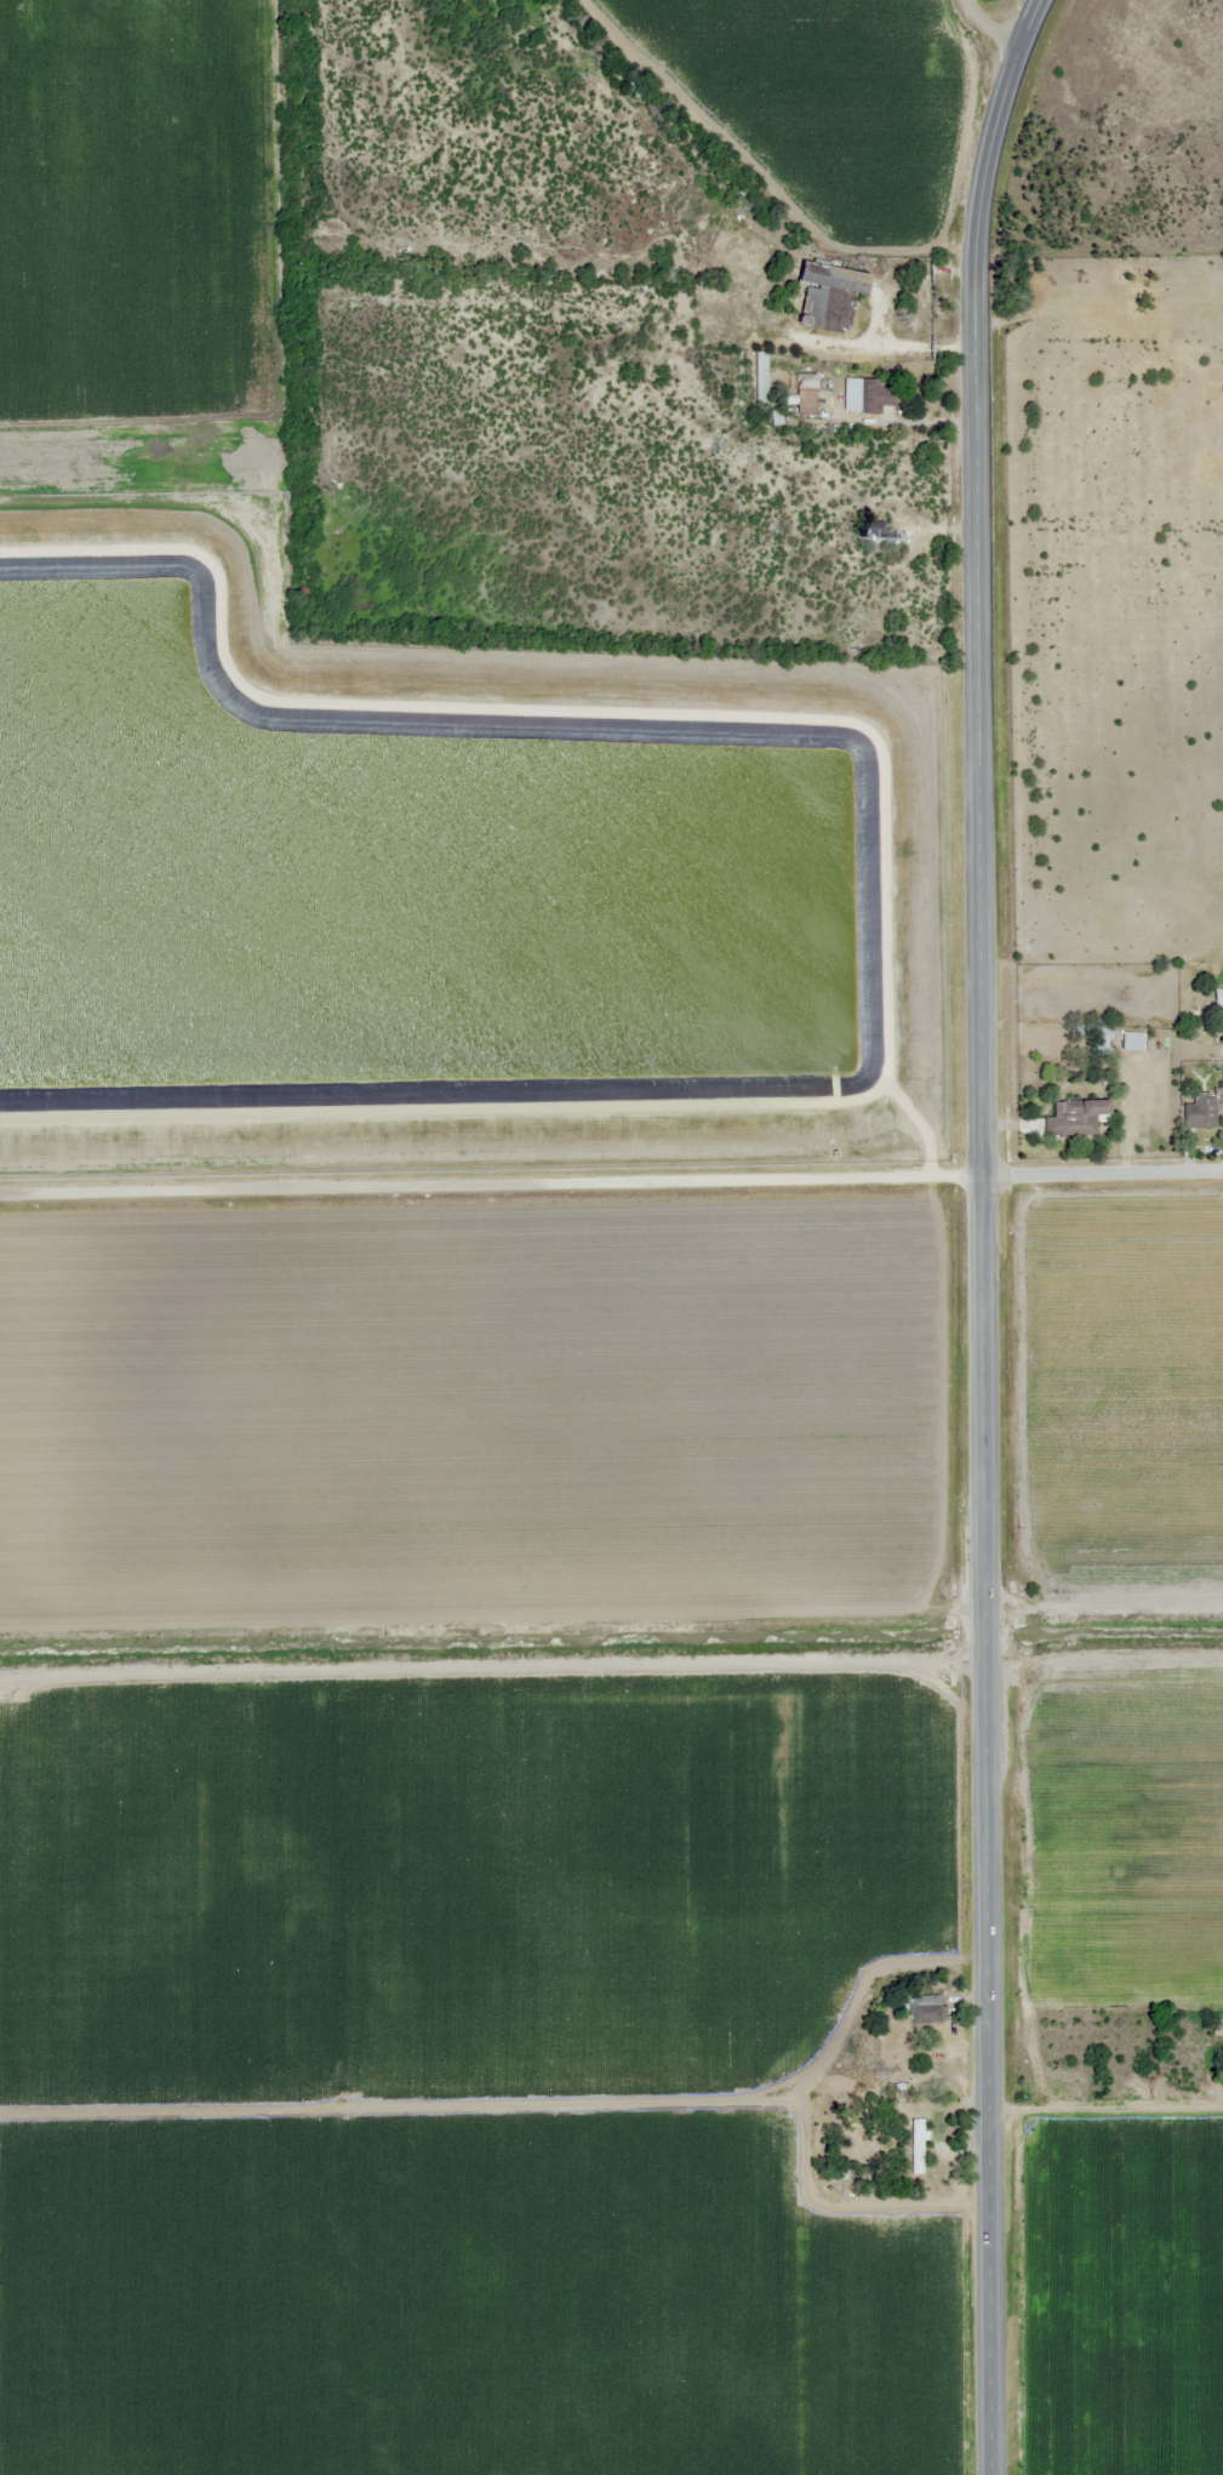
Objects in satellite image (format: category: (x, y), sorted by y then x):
road: (988, 155)
building: (829, 276)
building: (815, 301)
building: (764, 388)
building: (802, 393)
building: (864, 394)
building: (871, 529)
building: (1217, 998)
building: (1130, 1040)
building: (1196, 1113)
building: (1073, 1117)
road: (1103, 1175)
road: (491, 1186)
road: (983, 1397)
building: (926, 2009)
building: (1216, 2025)
building: (914, 2145)

